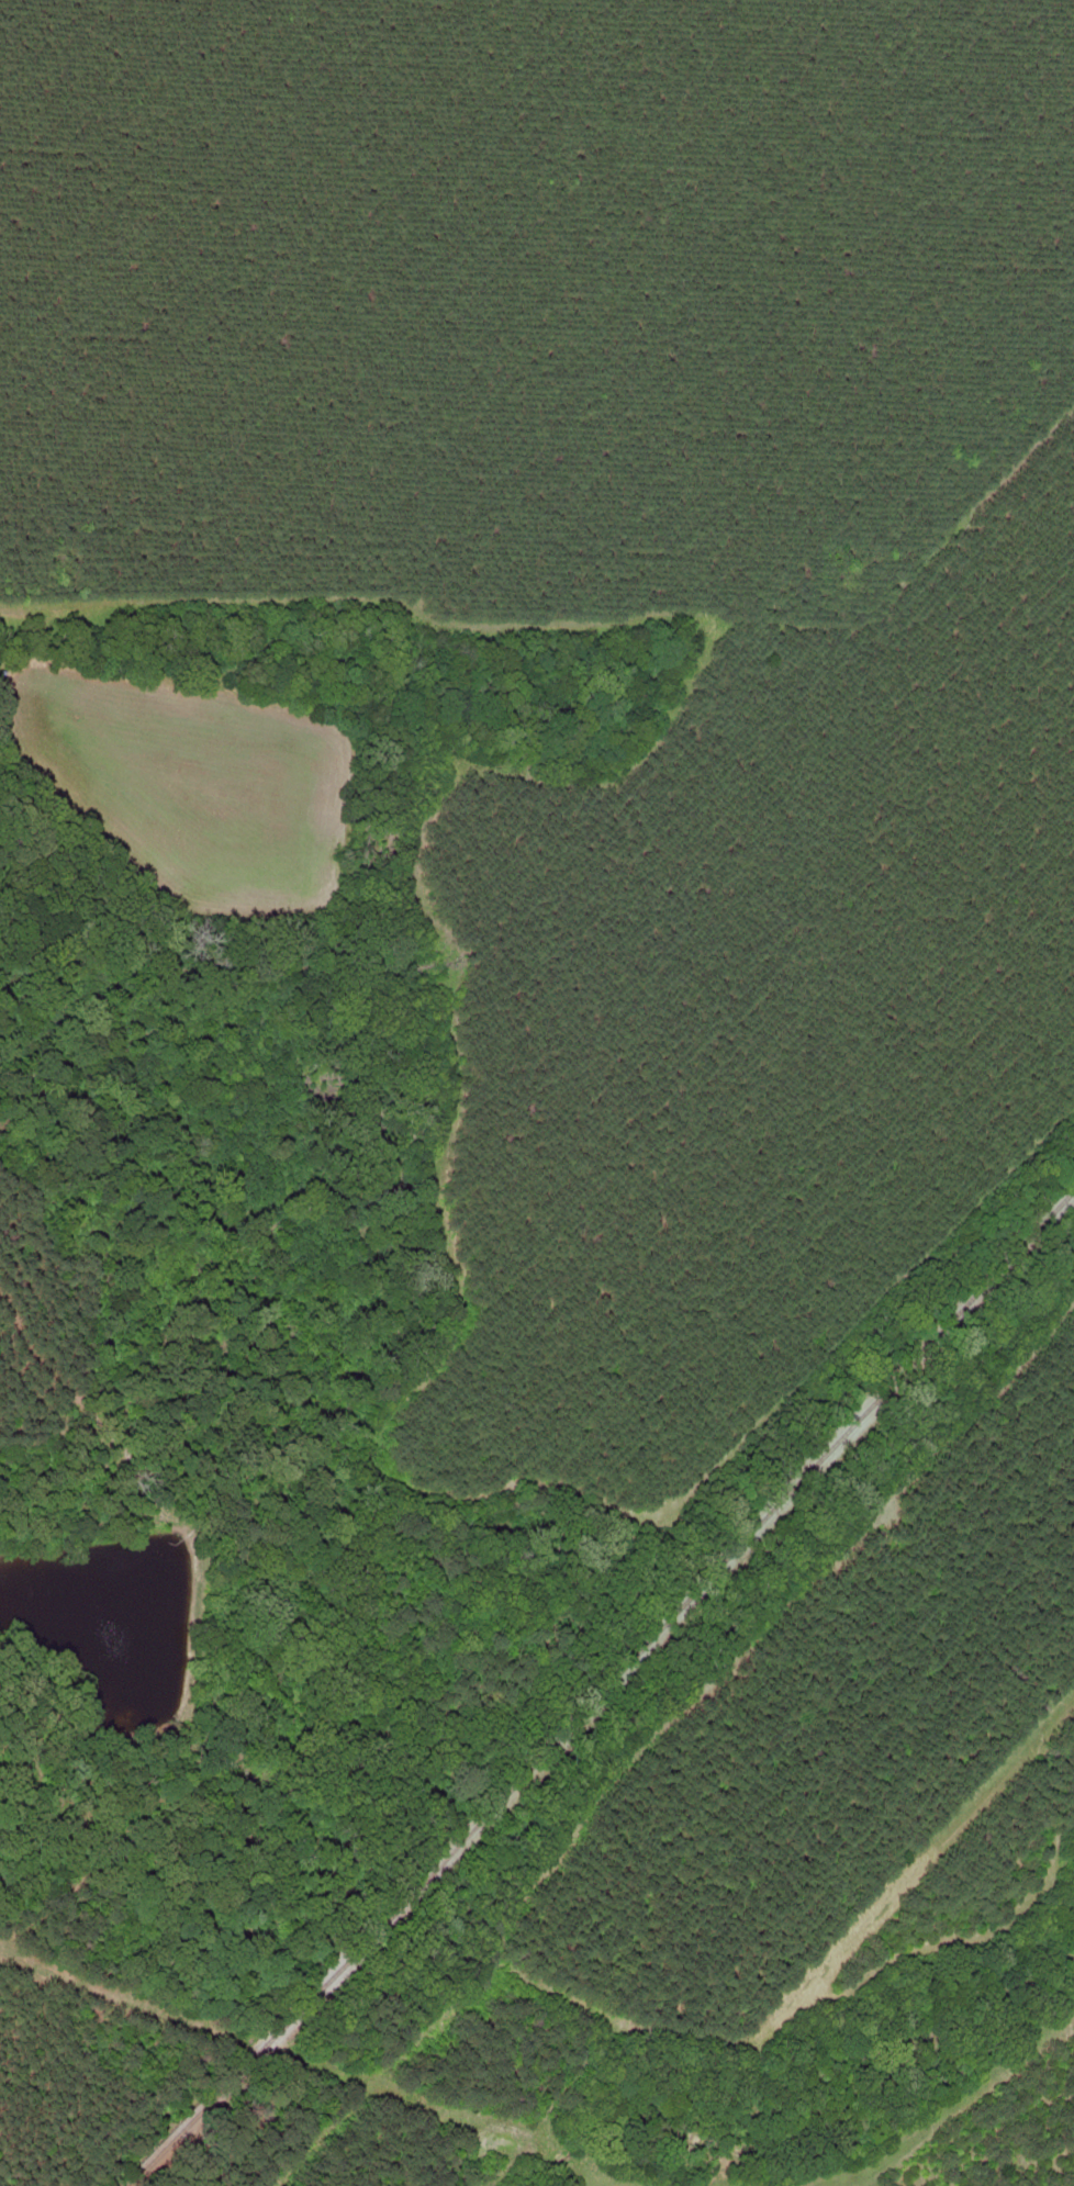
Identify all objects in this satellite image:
railway: (589, 1675)

